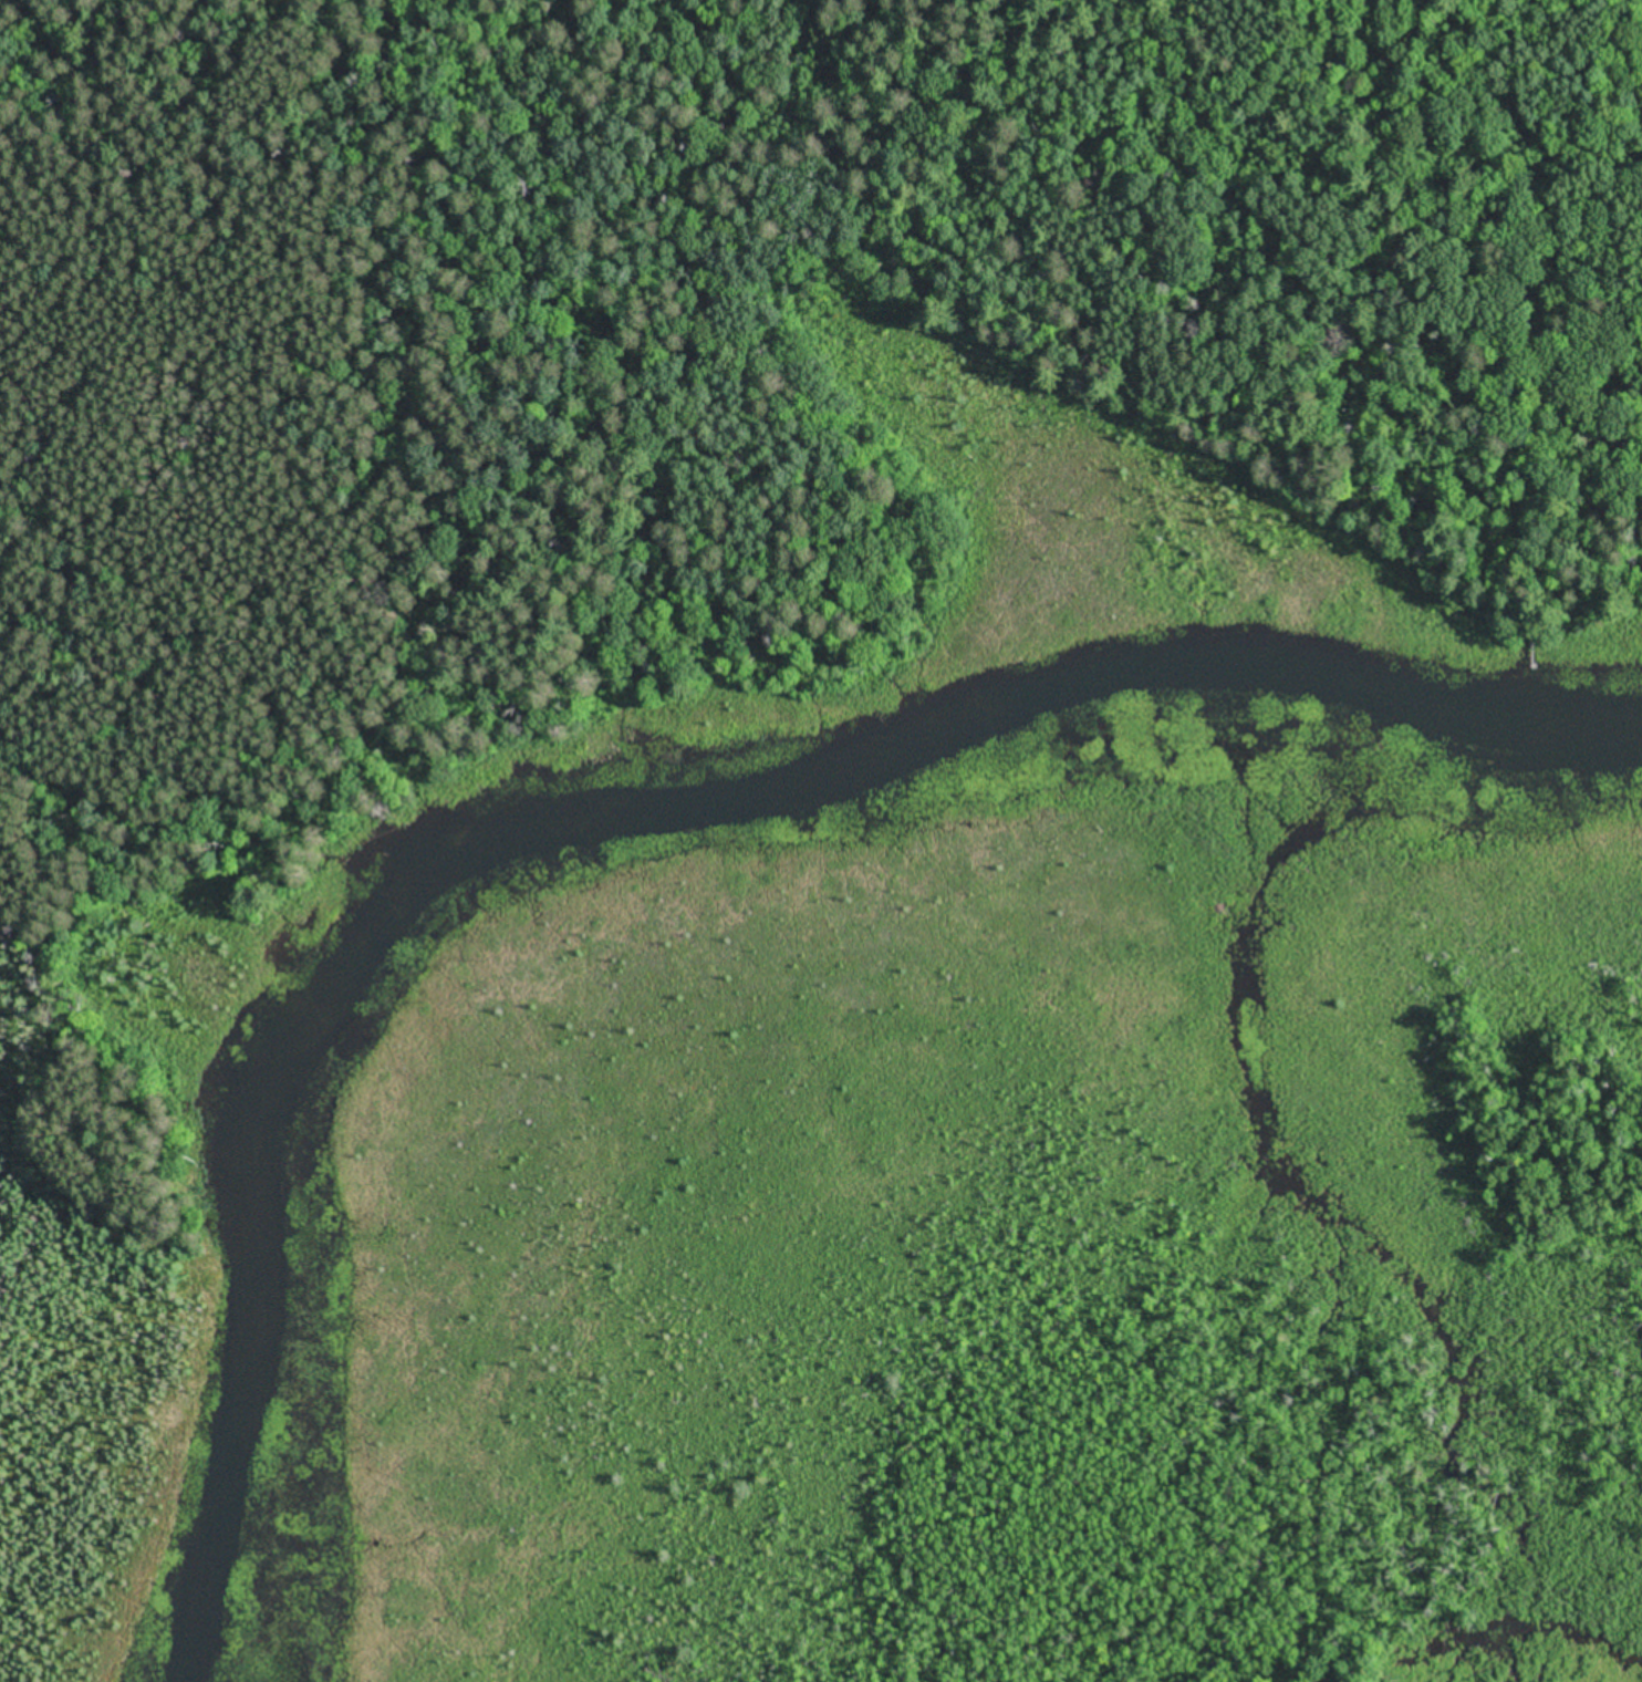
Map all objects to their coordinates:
river: (605, 813)

